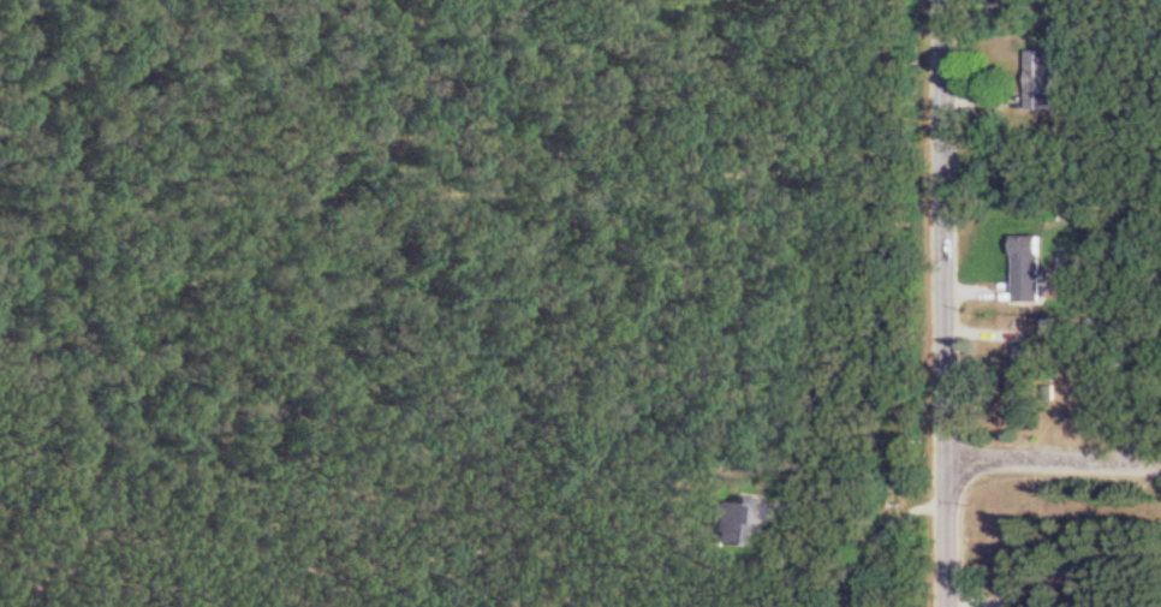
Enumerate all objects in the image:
building: (1041, 82)
building: (1029, 269)
road: (946, 303)
building: (1022, 371)
road: (1055, 462)
building: (726, 524)
road: (862, 538)
road: (1055, 590)

